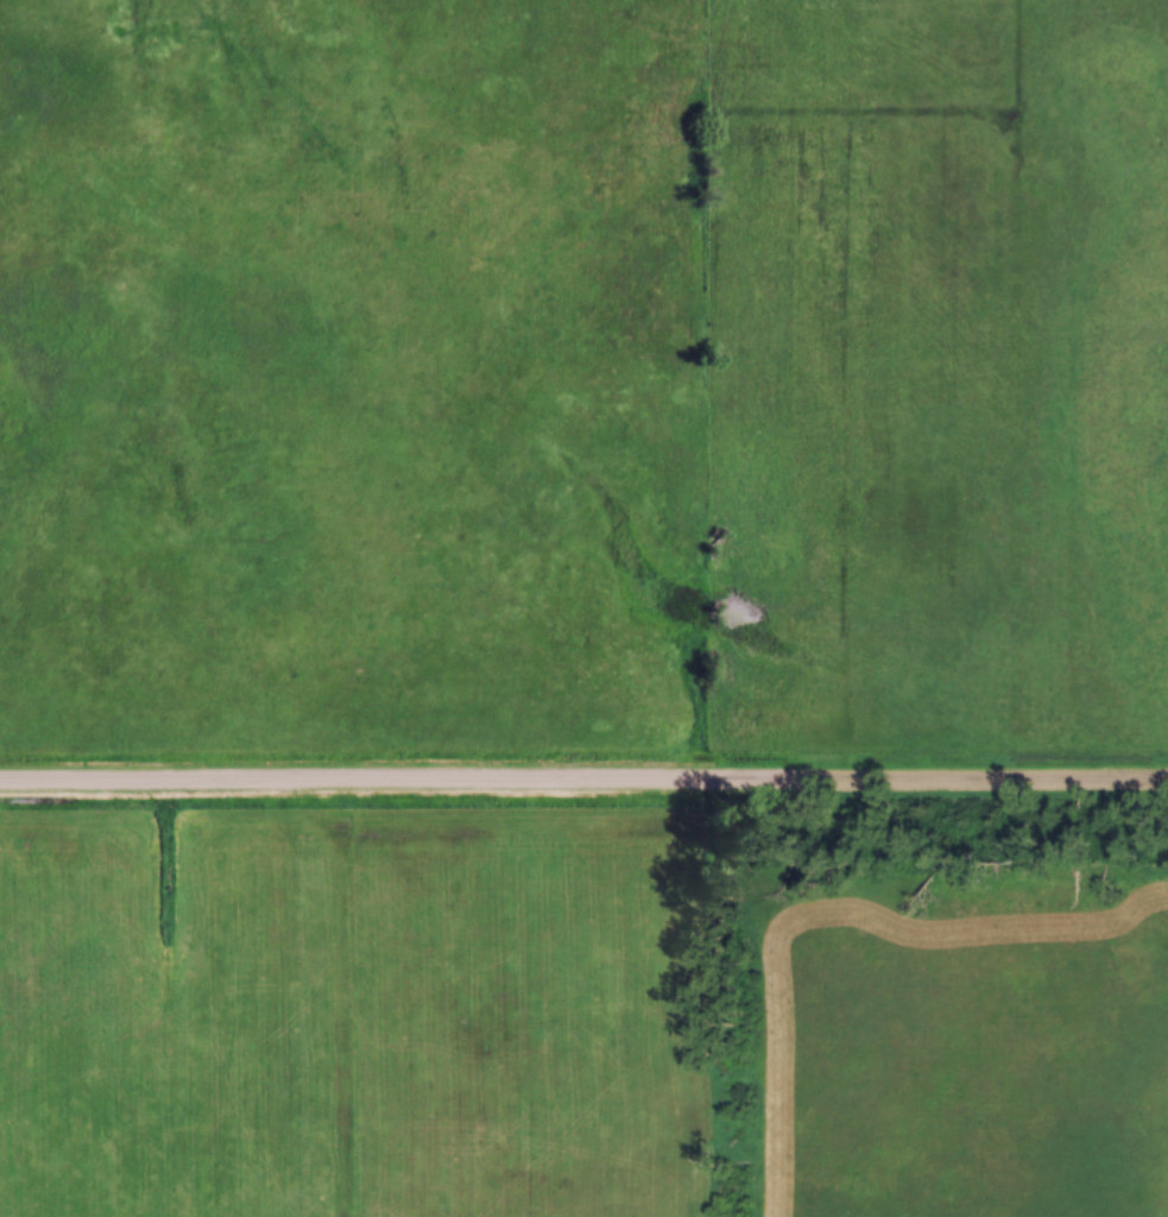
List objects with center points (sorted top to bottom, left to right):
road: (583, 777)

